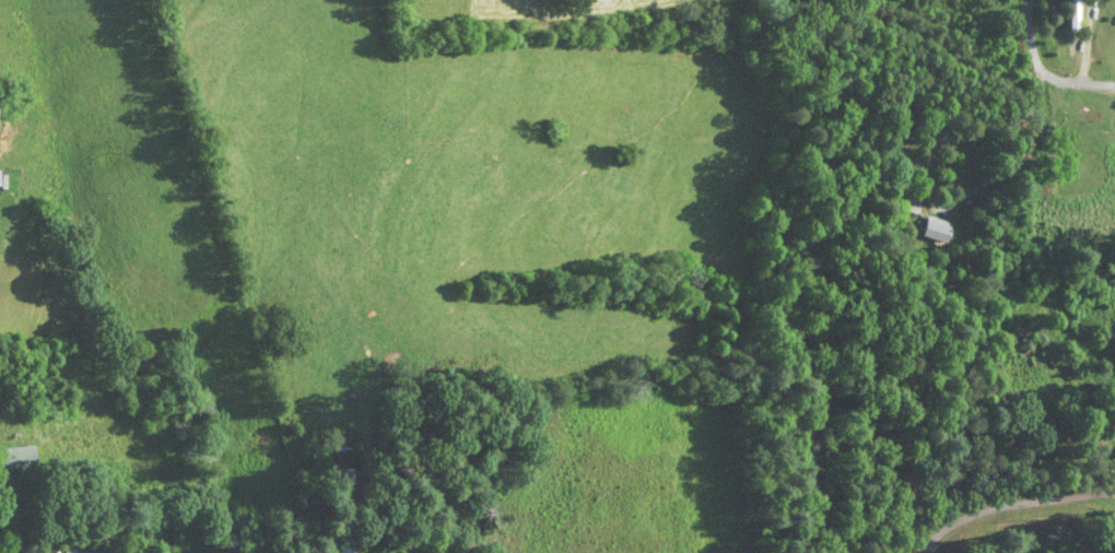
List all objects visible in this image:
building: (1068, 15)
road: (1042, 72)
building: (0, 115)
building: (922, 131)
building: (905, 205)
building: (929, 232)
building: (1092, 450)
building: (24, 458)
road: (1013, 508)
building: (340, 548)
building: (90, 552)

